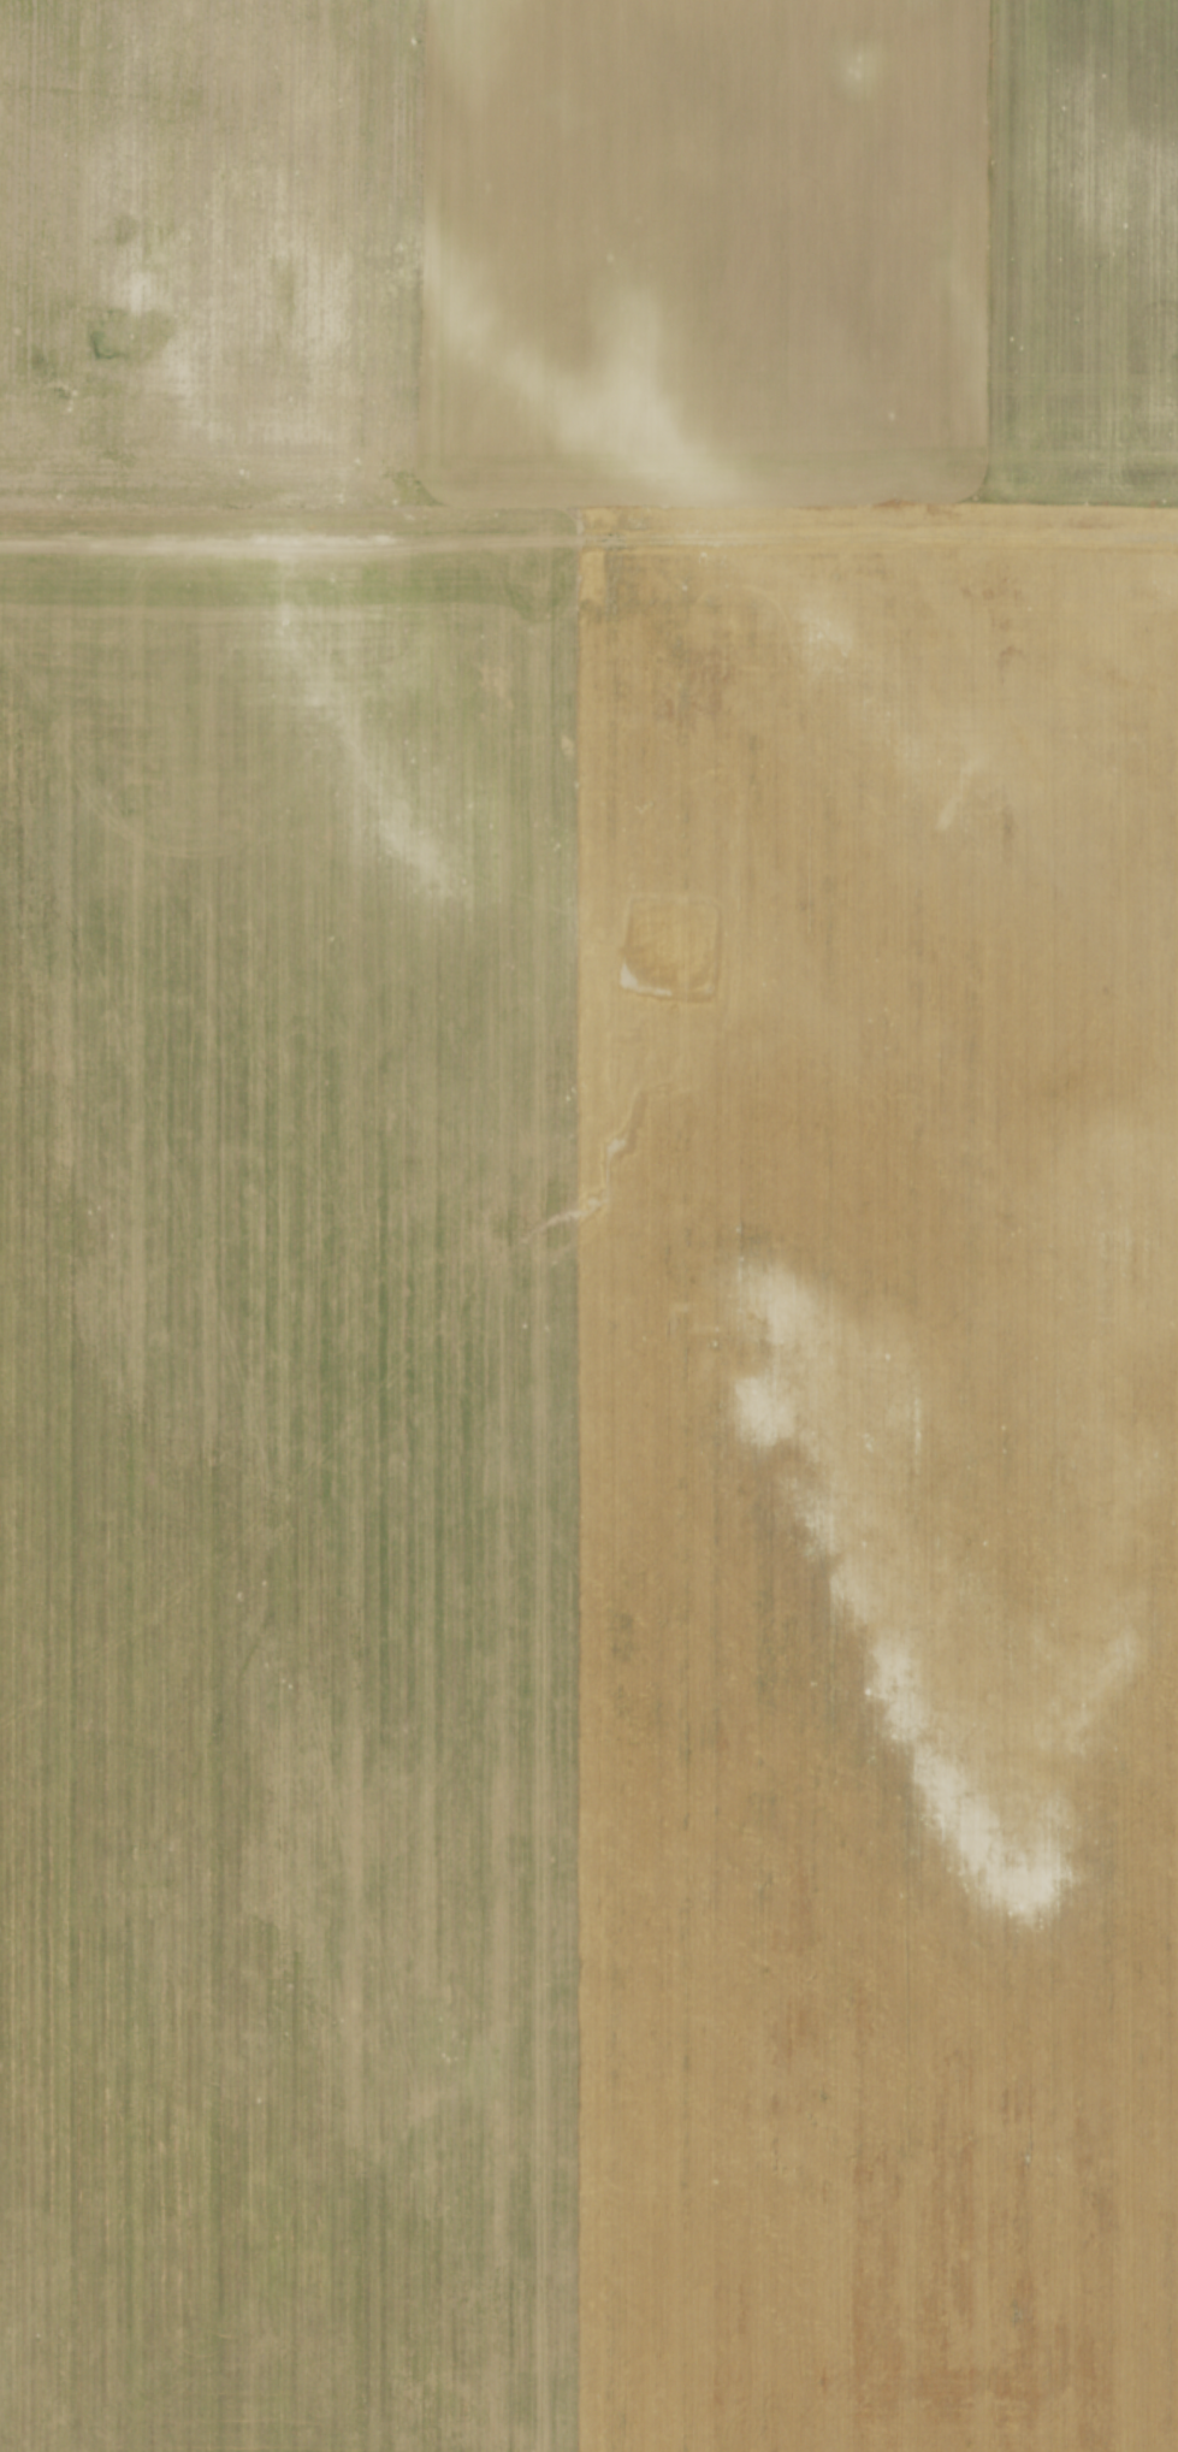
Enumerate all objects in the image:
crop: (588, 1225)

